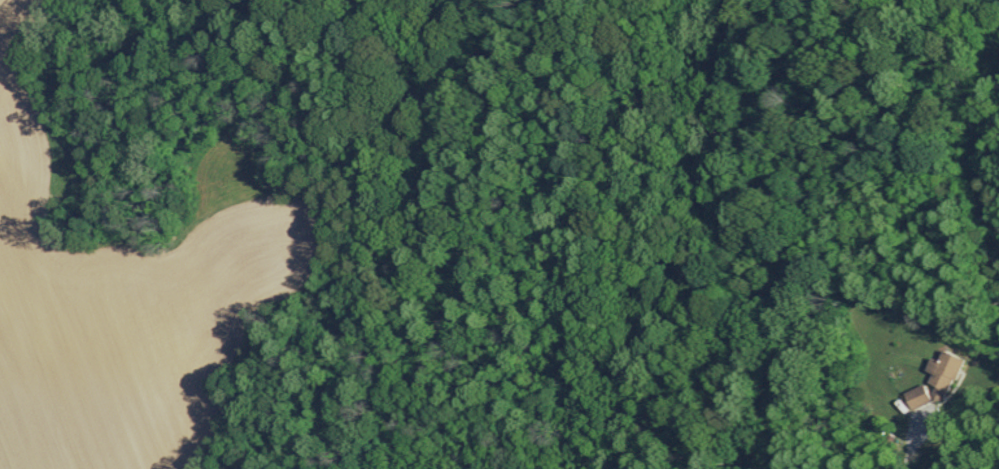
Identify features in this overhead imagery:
building: (942, 374)
building: (916, 397)

